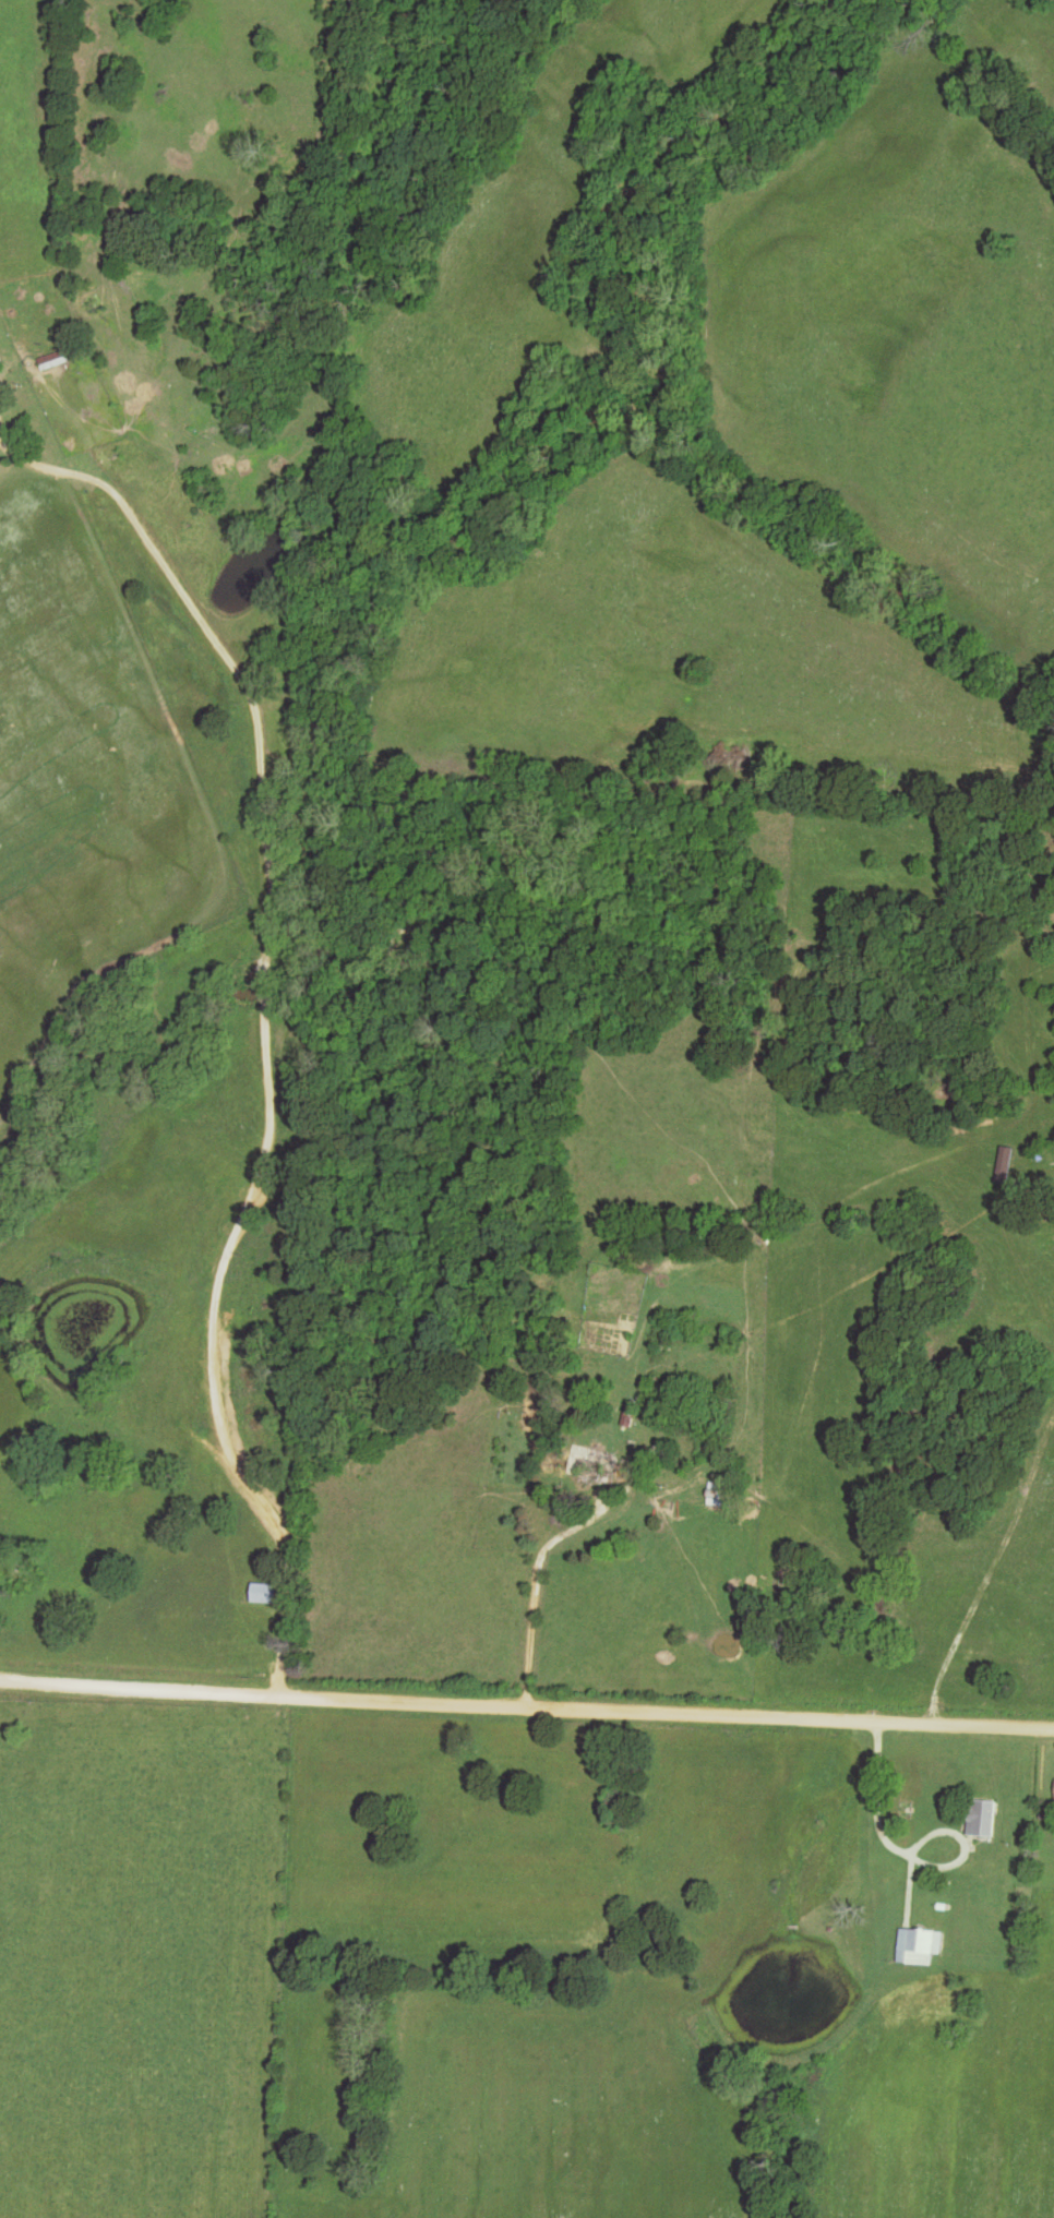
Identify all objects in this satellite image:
building: (56, 358)
road: (270, 1019)
building: (583, 1468)
building: (263, 1592)
road: (526, 1711)
building: (981, 1818)
building: (921, 1944)

